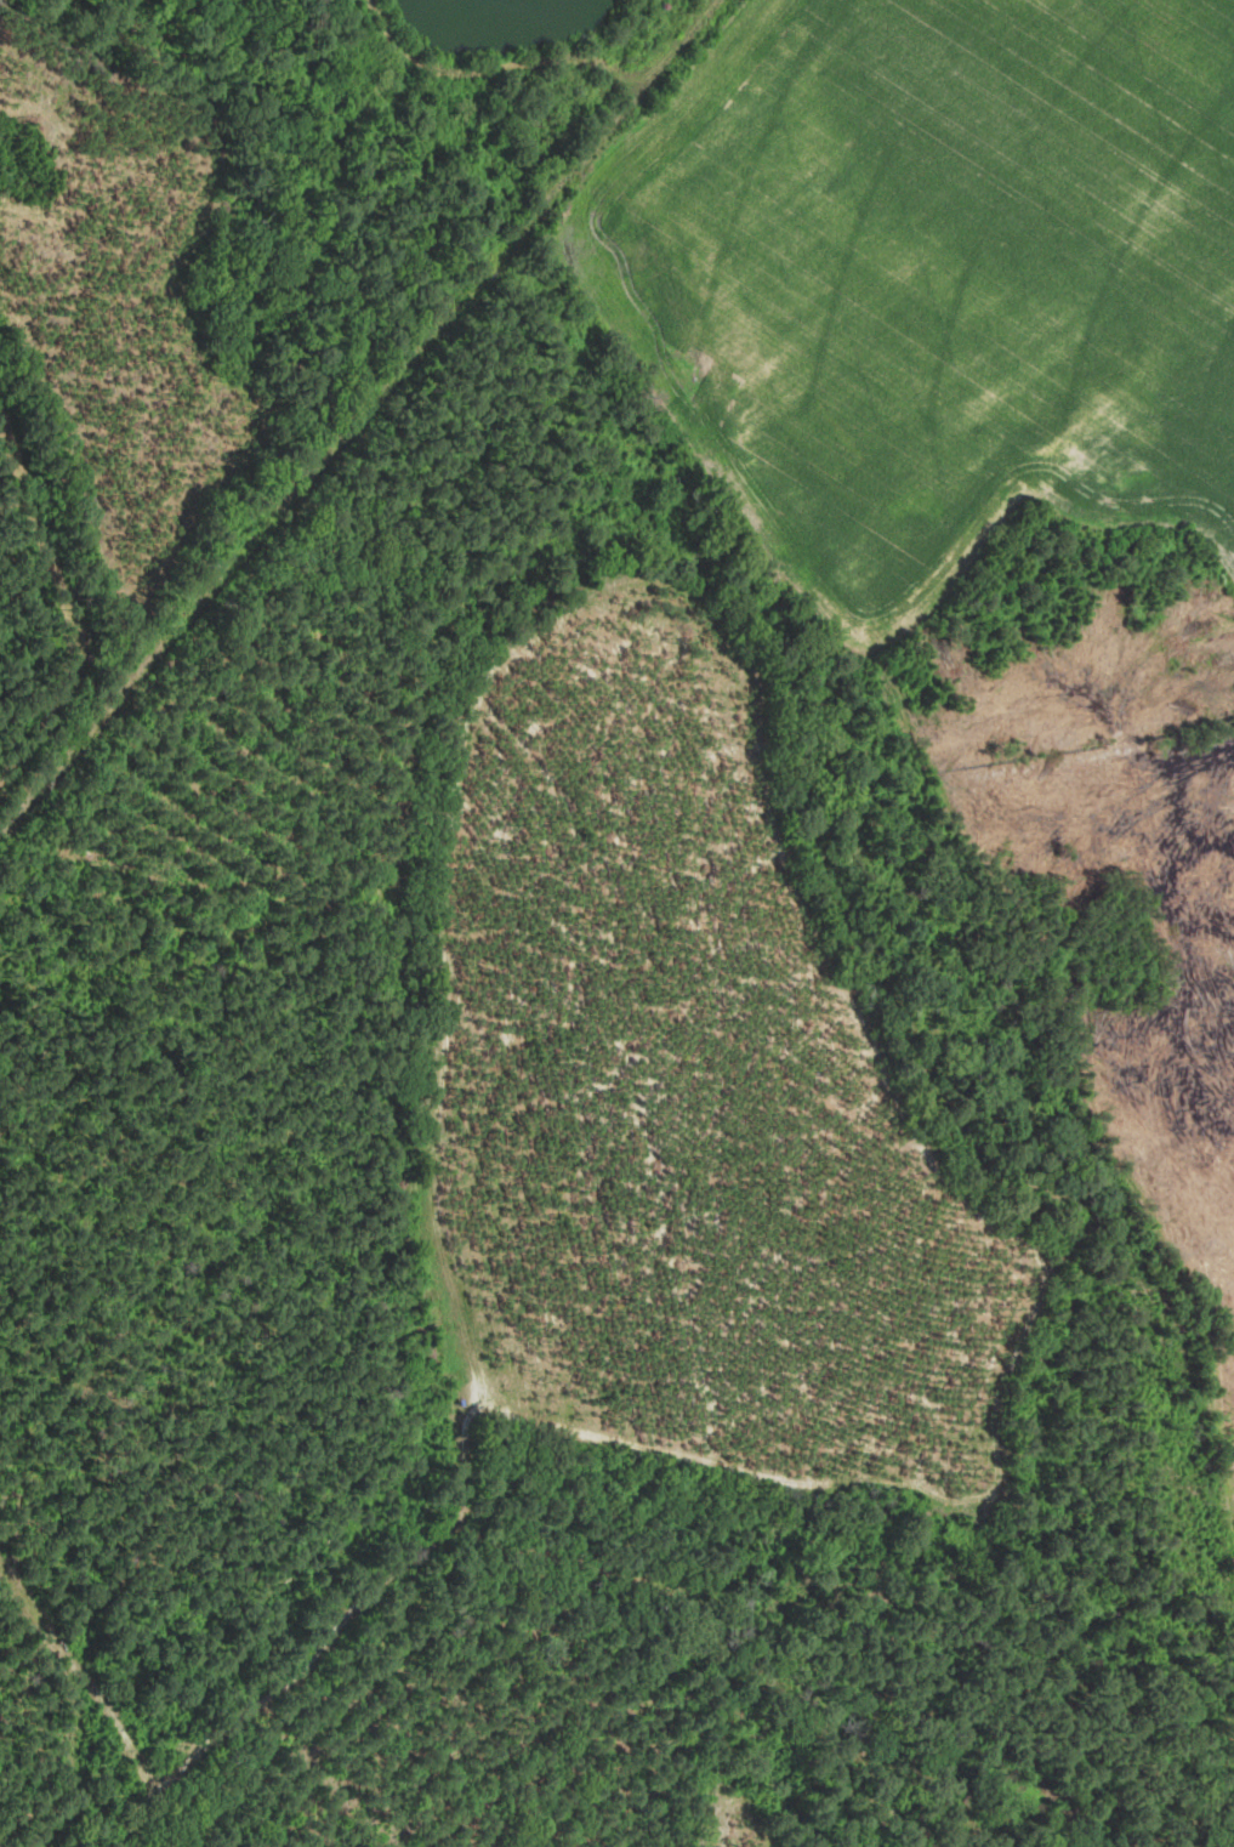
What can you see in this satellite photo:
railway: (363, 416)

